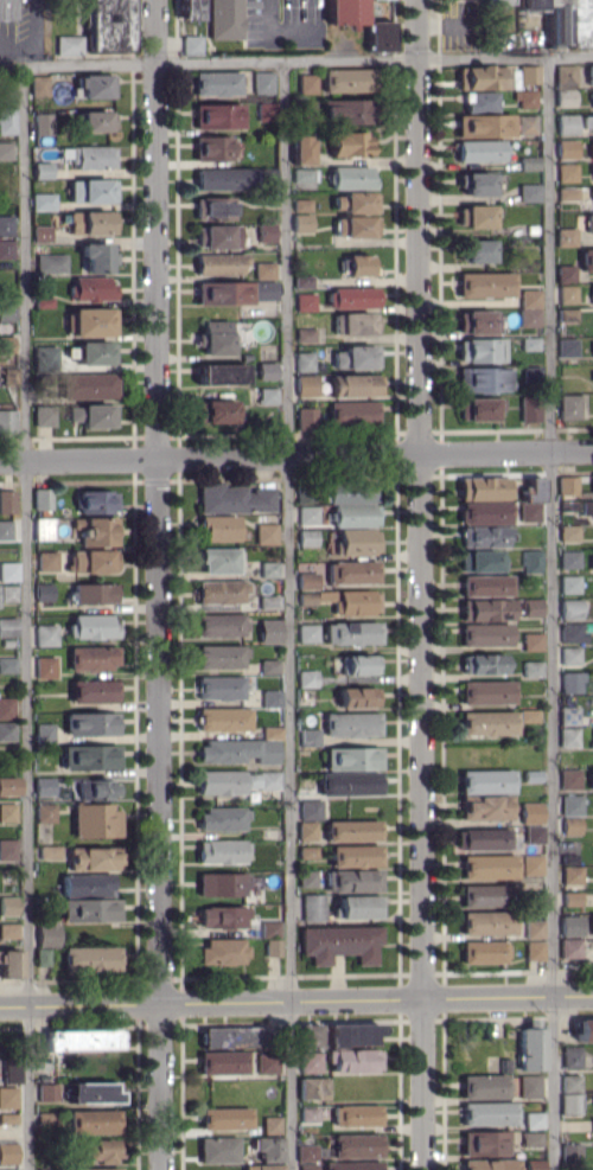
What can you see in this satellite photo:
building: (496, 2)
building: (8, 9)
building: (187, 9)
building: (344, 11)
building: (224, 19)
building: (565, 20)
building: (107, 25)
road: (33, 27)
road: (282, 28)
building: (378, 36)
building: (191, 44)
building: (68, 45)
road: (11, 47)
road: (21, 58)
road: (295, 59)
building: (528, 73)
building: (589, 73)
building: (565, 75)
building: (482, 77)
building: (346, 79)
building: (263, 82)
building: (217, 83)
building: (307, 83)
building: (38, 84)
building: (95, 85)
building: (592, 92)
building: (565, 97)
building: (525, 98)
building: (479, 101)
building: (267, 110)
building: (344, 110)
building: (218, 115)
building: (7, 120)
building: (95, 121)
building: (587, 121)
building: (43, 123)
building: (527, 123)
building: (566, 123)
building: (484, 124)
building: (349, 143)
building: (212, 148)
building: (566, 148)
building: (589, 148)
building: (302, 149)
building: (5, 151)
building: (479, 151)
building: (91, 156)
building: (42, 170)
building: (567, 172)
building: (592, 172)
building: (305, 174)
building: (351, 177)
building: (224, 178)
building: (476, 183)
building: (90, 190)
building: (529, 192)
building: (567, 193)
building: (592, 196)
building: (43, 202)
building: (355, 202)
building: (302, 204)
building: (213, 207)
building: (474, 216)
building: (90, 222)
building: (302, 222)
building: (589, 222)
building: (6, 224)
building: (355, 225)
building: (266, 231)
building: (42, 232)
building: (217, 236)
building: (566, 237)
building: (6, 249)
building: (476, 250)
building: (96, 256)
building: (586, 258)
building: (51, 263)
building: (219, 263)
building: (357, 264)
building: (264, 270)
building: (565, 273)
building: (302, 281)
building: (485, 283)
building: (90, 288)
building: (223, 292)
building: (566, 293)
building: (592, 293)
building: (351, 298)
building: (305, 301)
building: (529, 307)
building: (6, 312)
building: (91, 321)
building: (477, 321)
building: (355, 322)
building: (305, 333)
building: (215, 337)
building: (592, 338)
building: (567, 346)
building: (480, 350)
building: (95, 352)
building: (355, 357)
building: (44, 359)
building: (304, 360)
building: (267, 370)
building: (221, 373)
building: (530, 375)
building: (8, 376)
building: (482, 379)
building: (306, 384)
building: (355, 384)
building: (88, 385)
building: (568, 405)
building: (479, 408)
building: (529, 408)
building: (215, 411)
building: (351, 413)
building: (43, 415)
building: (93, 415)
building: (306, 417)
building: (7, 421)
road: (295, 453)
building: (567, 484)
building: (482, 487)
building: (531, 488)
building: (350, 493)
building: (42, 498)
building: (235, 498)
building: (6, 500)
building: (96, 501)
building: (529, 511)
building: (483, 512)
building: (307, 514)
building: (353, 514)
building: (43, 528)
building: (218, 528)
building: (5, 529)
building: (96, 530)
building: (569, 532)
building: (266, 533)
building: (483, 536)
building: (307, 537)
building: (356, 541)
building: (568, 558)
building: (218, 560)
building: (479, 560)
building: (591, 560)
building: (46, 561)
building: (93, 561)
building: (530, 561)
building: (268, 569)
building: (8, 570)
building: (351, 571)
building: (307, 580)
building: (569, 583)
road: (159, 584)
road: (420, 584)
building: (485, 584)
building: (44, 592)
building: (221, 592)
building: (7, 593)
building: (94, 593)
building: (345, 600)
building: (268, 601)
building: (531, 607)
building: (570, 608)
building: (485, 609)
road: (550, 613)
road: (288, 614)
road: (26, 616)
building: (221, 625)
building: (8, 626)
building: (93, 626)
building: (269, 631)
building: (572, 632)
building: (307, 633)
building: (351, 633)
building: (45, 634)
building: (485, 634)
building: (531, 641)
building: (569, 654)
building: (219, 656)
building: (93, 657)
building: (483, 663)
building: (7, 664)
building: (358, 664)
building: (269, 665)
building: (45, 666)
building: (531, 669)
building: (306, 678)
building: (570, 682)
building: (219, 686)
building: (93, 690)
building: (486, 691)
building: (272, 697)
building: (357, 697)
building: (6, 708)
building: (528, 715)
building: (568, 715)
building: (223, 718)
building: (91, 723)
building: (486, 723)
building: (351, 724)
building: (7, 730)
building: (44, 731)
building: (272, 733)
building: (568, 736)
building: (308, 737)
building: (237, 750)
building: (89, 756)
building: (351, 757)
building: (592, 778)
building: (569, 779)
building: (236, 781)
building: (485, 781)
building: (349, 784)
building: (8, 786)
building: (44, 786)
building: (94, 788)
building: (570, 804)
building: (485, 806)
building: (310, 810)
building: (7, 812)
building: (45, 812)
building: (530, 812)
building: (222, 818)
building: (95, 820)
building: (570, 825)
building: (307, 830)
building: (352, 830)
building: (534, 833)
building: (480, 838)
building: (7, 849)
building: (221, 851)
building: (353, 855)
building: (94, 858)
building: (531, 864)
building: (487, 867)
building: (570, 874)
building: (306, 878)
building: (352, 880)
building: (222, 883)
building: (87, 884)
building: (482, 895)
building: (570, 899)
building: (8, 904)
building: (312, 907)
building: (356, 907)
building: (89, 909)
building: (223, 916)
building: (487, 922)
building: (592, 923)
building: (570, 925)
building: (270, 928)
building: (534, 928)
building: (8, 931)
building: (47, 933)
building: (339, 942)
building: (273, 947)
building: (570, 948)
building: (534, 950)
building: (223, 951)
building: (484, 952)
building: (42, 957)
building: (90, 958)
building: (9, 963)
road: (296, 999)
building: (584, 1030)
building: (308, 1034)
building: (351, 1034)
building: (234, 1036)
building: (81, 1040)
building: (530, 1046)
building: (570, 1056)
building: (353, 1060)
building: (310, 1061)
building: (223, 1062)
building: (267, 1063)
building: (12, 1074)
building: (570, 1082)
building: (484, 1086)
building: (529, 1086)
building: (313, 1087)
building: (47, 1092)
building: (91, 1093)
building: (8, 1097)
building: (569, 1102)
building: (489, 1113)
building: (308, 1114)
building: (356, 1114)
building: (8, 1118)
building: (225, 1118)
building: (535, 1120)
building: (94, 1121)
building: (592, 1123)
building: (272, 1124)
building: (531, 1137)
building: (483, 1143)
building: (357, 1145)
building: (268, 1147)
building: (218, 1149)
building: (102, 1150)
building: (7, 1152)
building: (307, 1152)
building: (570, 1152)
building: (490, 1164)
building: (535, 1164)
building: (353, 1165)
building: (263, 1166)
building: (307, 1166)
building: (1, 1169)
building: (49, 1169)
building: (94, 1169)

